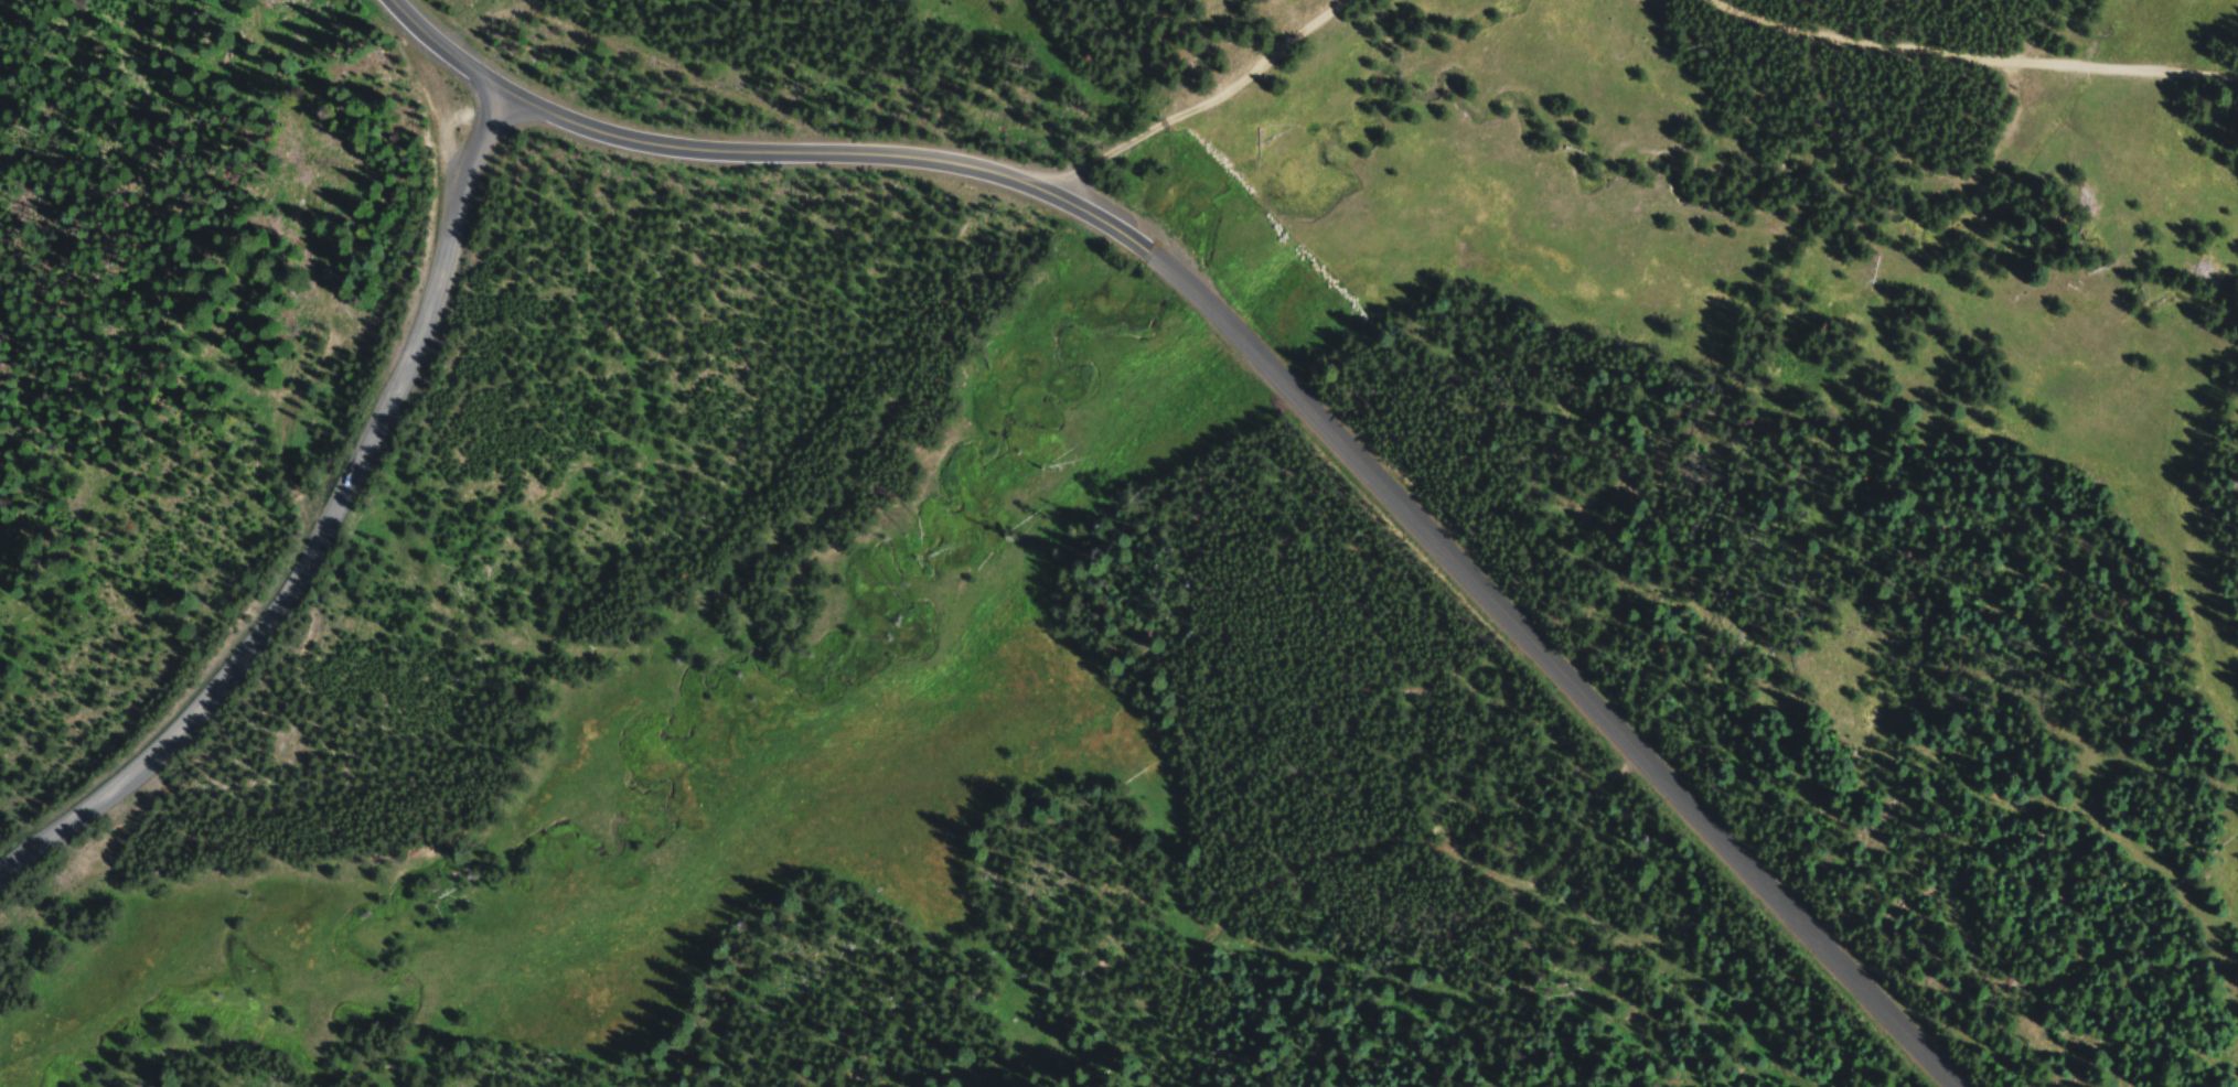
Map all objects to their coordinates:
road: (449, 51)
road: (1971, 60)
road: (1199, 95)
road: (296, 103)
road: (1326, 423)
road: (329, 535)

